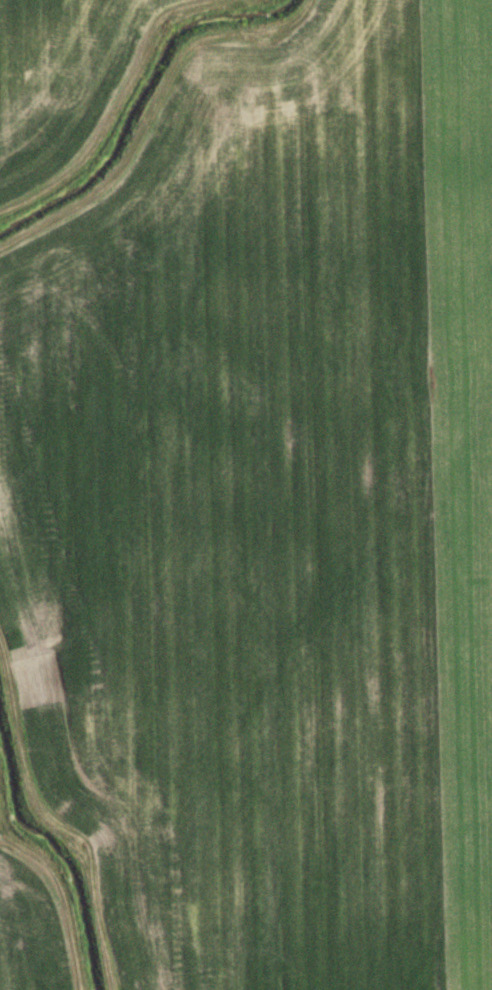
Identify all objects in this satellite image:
crop: (63, 81)
crop: (270, 513)
crop: (30, 918)

